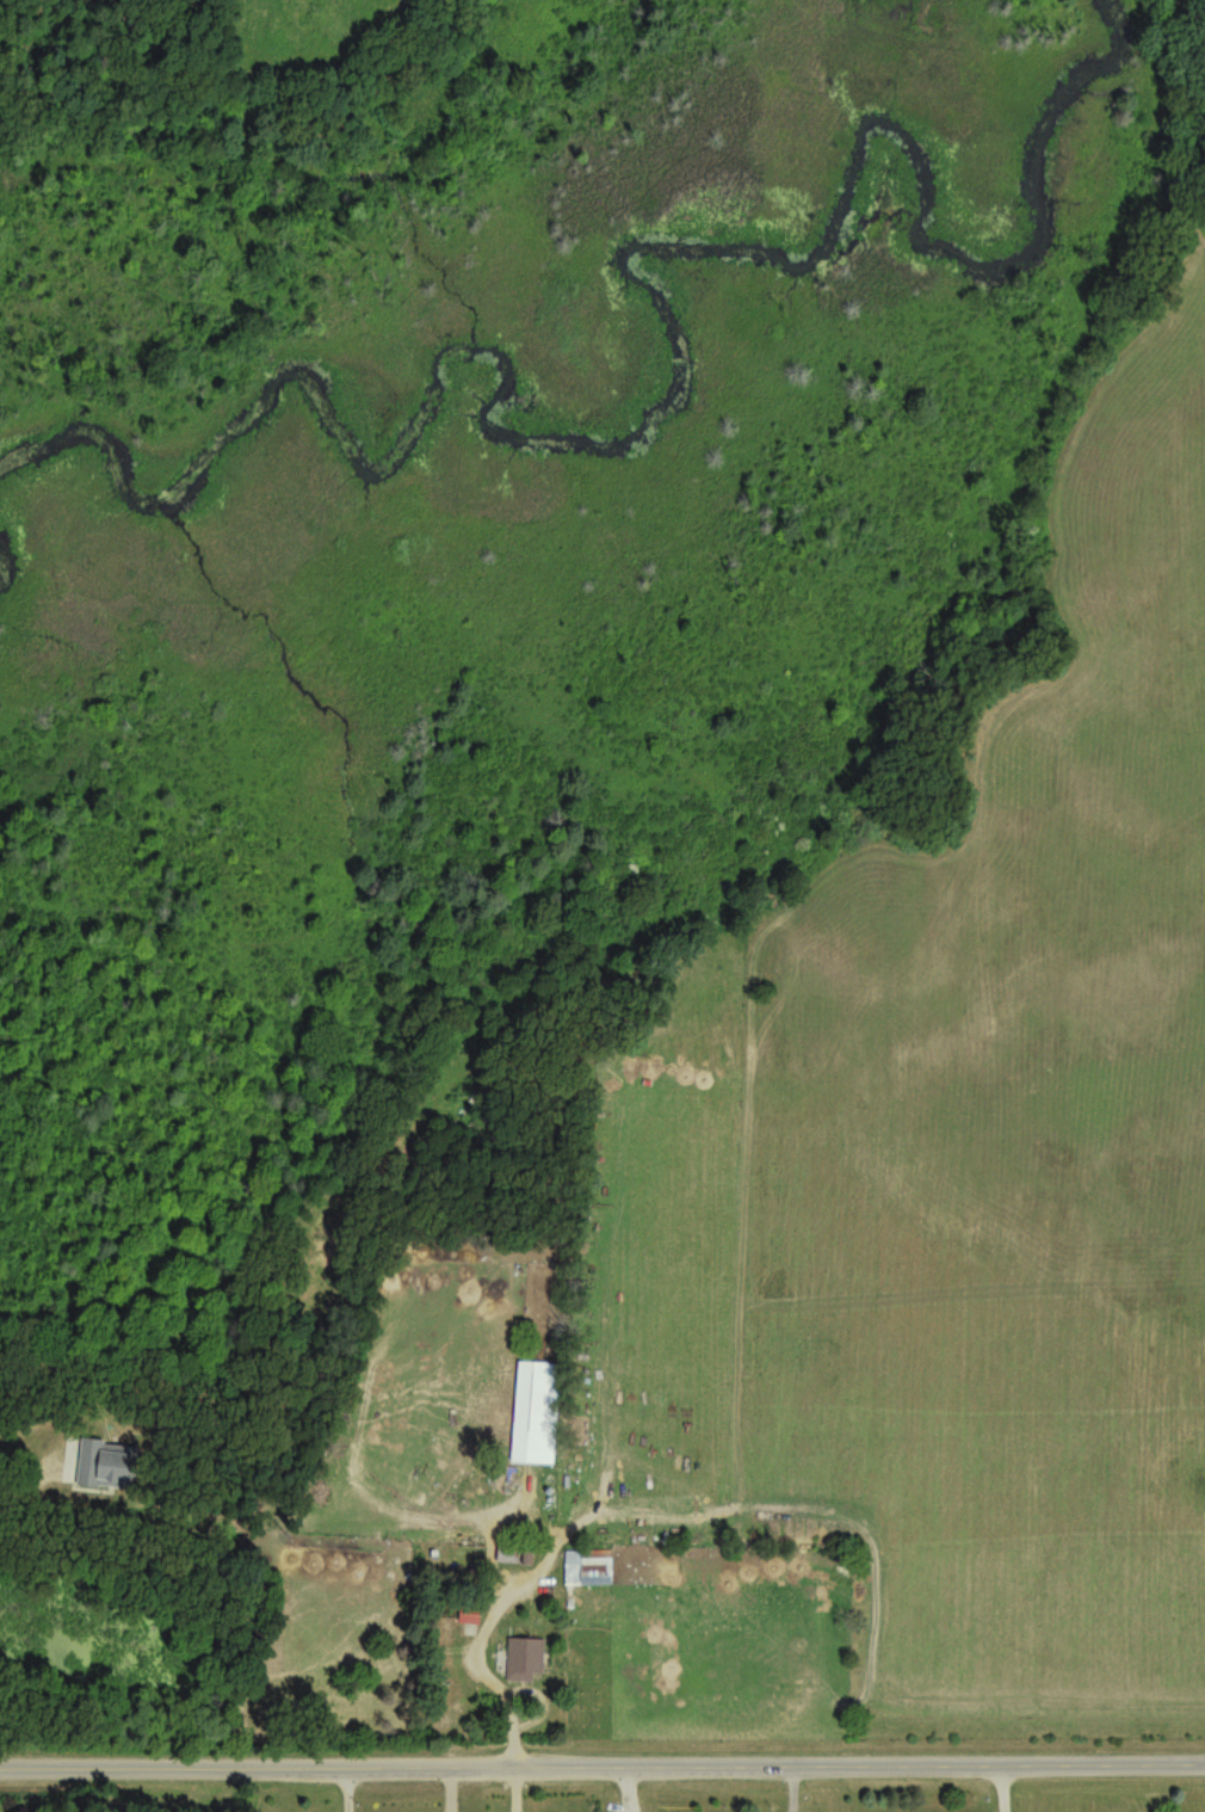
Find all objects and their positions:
building: (530, 1391)
road: (19, 1474)
building: (513, 1559)
building: (588, 1573)
building: (531, 1662)
road: (601, 1762)
road: (995, 1786)

